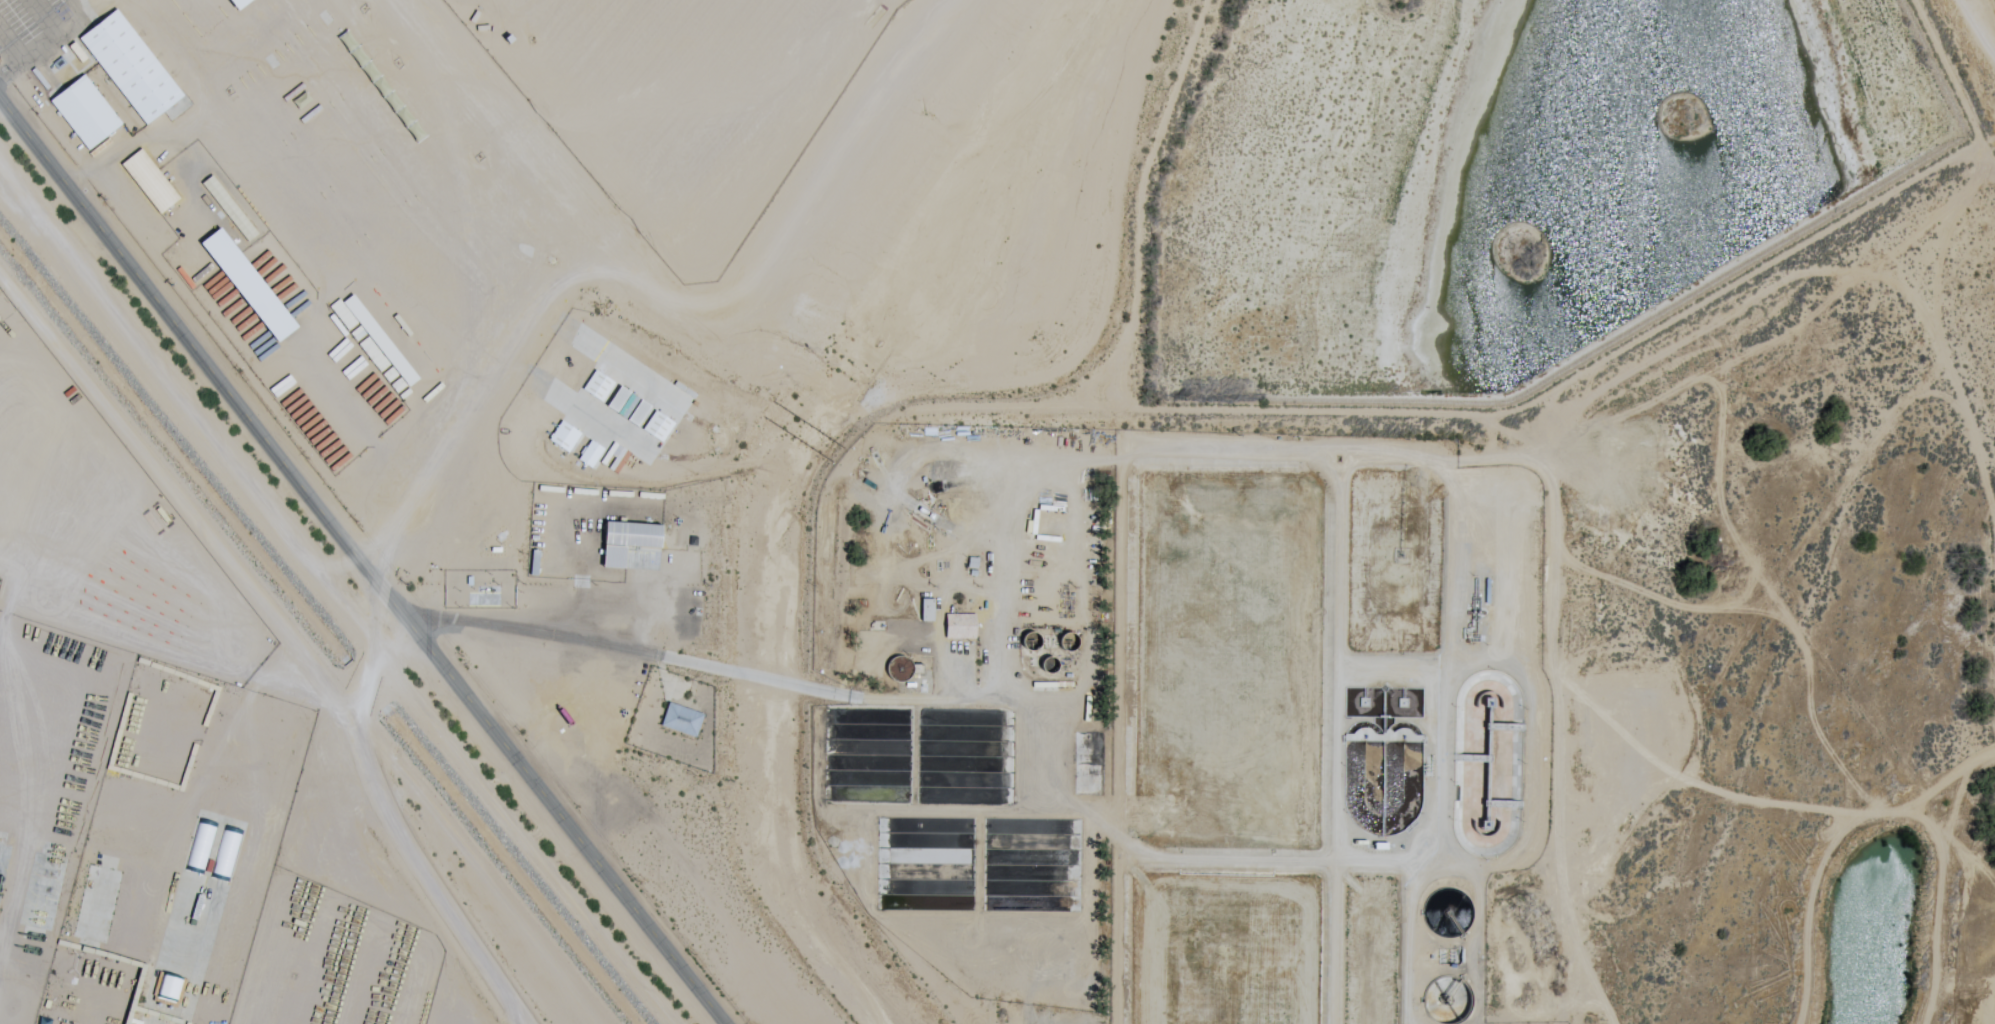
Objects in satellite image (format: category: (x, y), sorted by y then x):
building: (237, 3)
road: (1981, 25)
building: (133, 68)
building: (383, 87)
building: (87, 114)
road: (742, 158)
building: (152, 183)
building: (251, 286)
road: (534, 289)
building: (630, 540)
road: (357, 567)
road: (334, 609)
building: (929, 610)
building: (962, 626)
building: (903, 668)
road: (346, 690)
building: (683, 720)
wastewater plant: (1201, 721)
building: (4, 868)
building: (45, 913)

